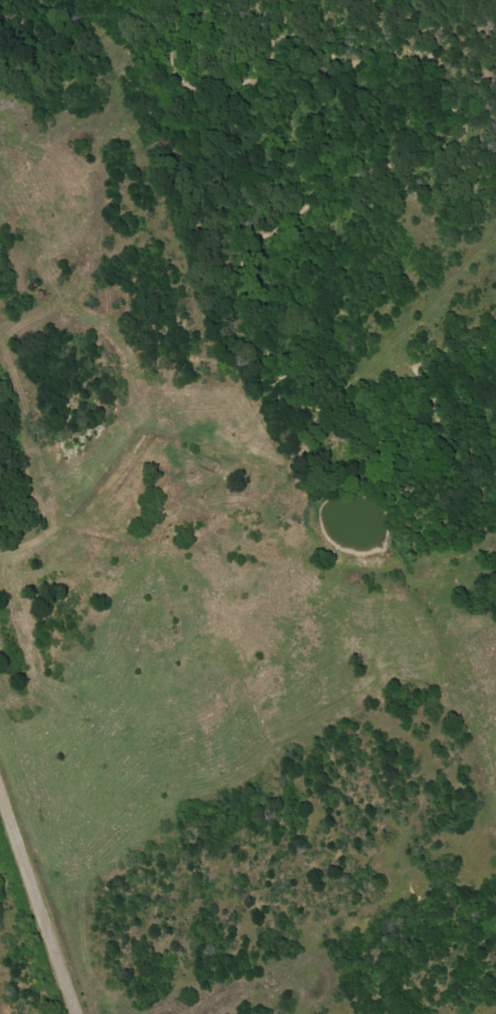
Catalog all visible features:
road: (42, 897)

